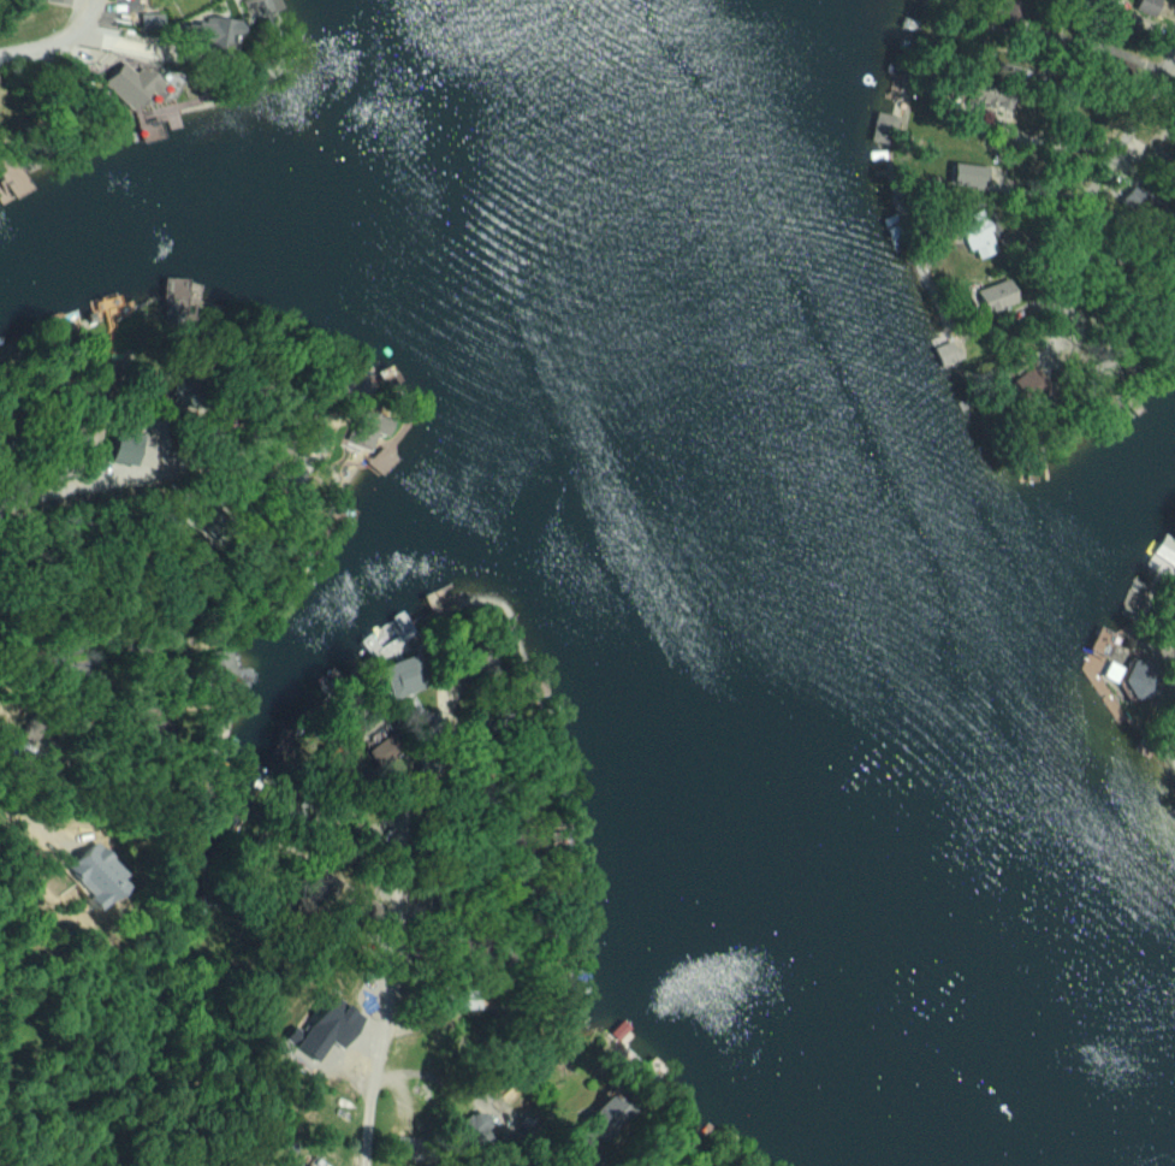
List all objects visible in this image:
building: (58, 0)
building: (263, 6)
building: (1146, 6)
building: (146, 22)
building: (209, 31)
road: (55, 35)
building: (1010, 65)
building: (1121, 66)
building: (127, 84)
building: (990, 96)
building: (1173, 110)
building: (882, 126)
road: (1060, 141)
building: (965, 173)
building: (12, 180)
road: (1102, 180)
building: (1128, 199)
building: (975, 233)
building: (995, 295)
building: (1021, 386)
building: (363, 427)
building: (123, 448)
road: (109, 481)
building: (214, 663)
building: (402, 675)
building: (1140, 679)
road: (75, 705)
building: (380, 752)
road: (396, 946)
building: (463, 996)
building: (308, 1040)
building: (607, 1107)
building: (474, 1126)
building: (305, 1165)

